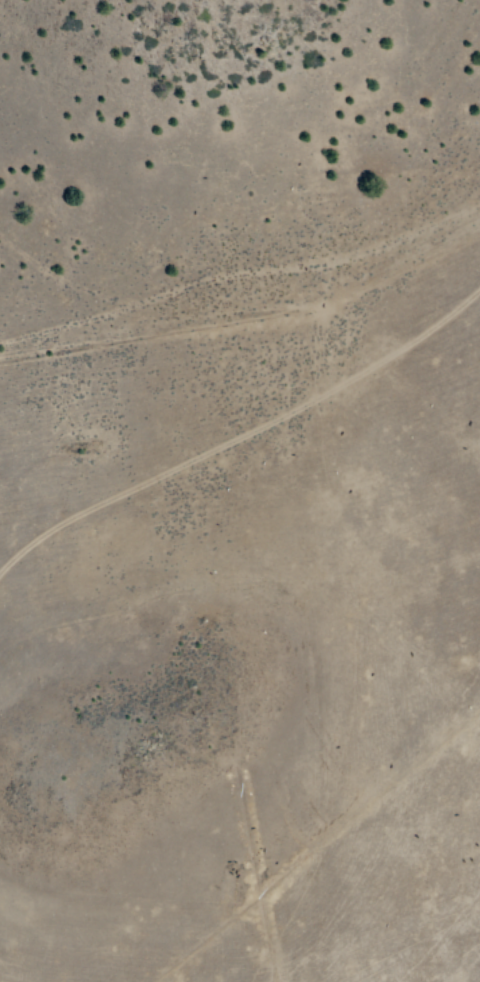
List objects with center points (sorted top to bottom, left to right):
road: (234, 267)
road: (63, 320)

